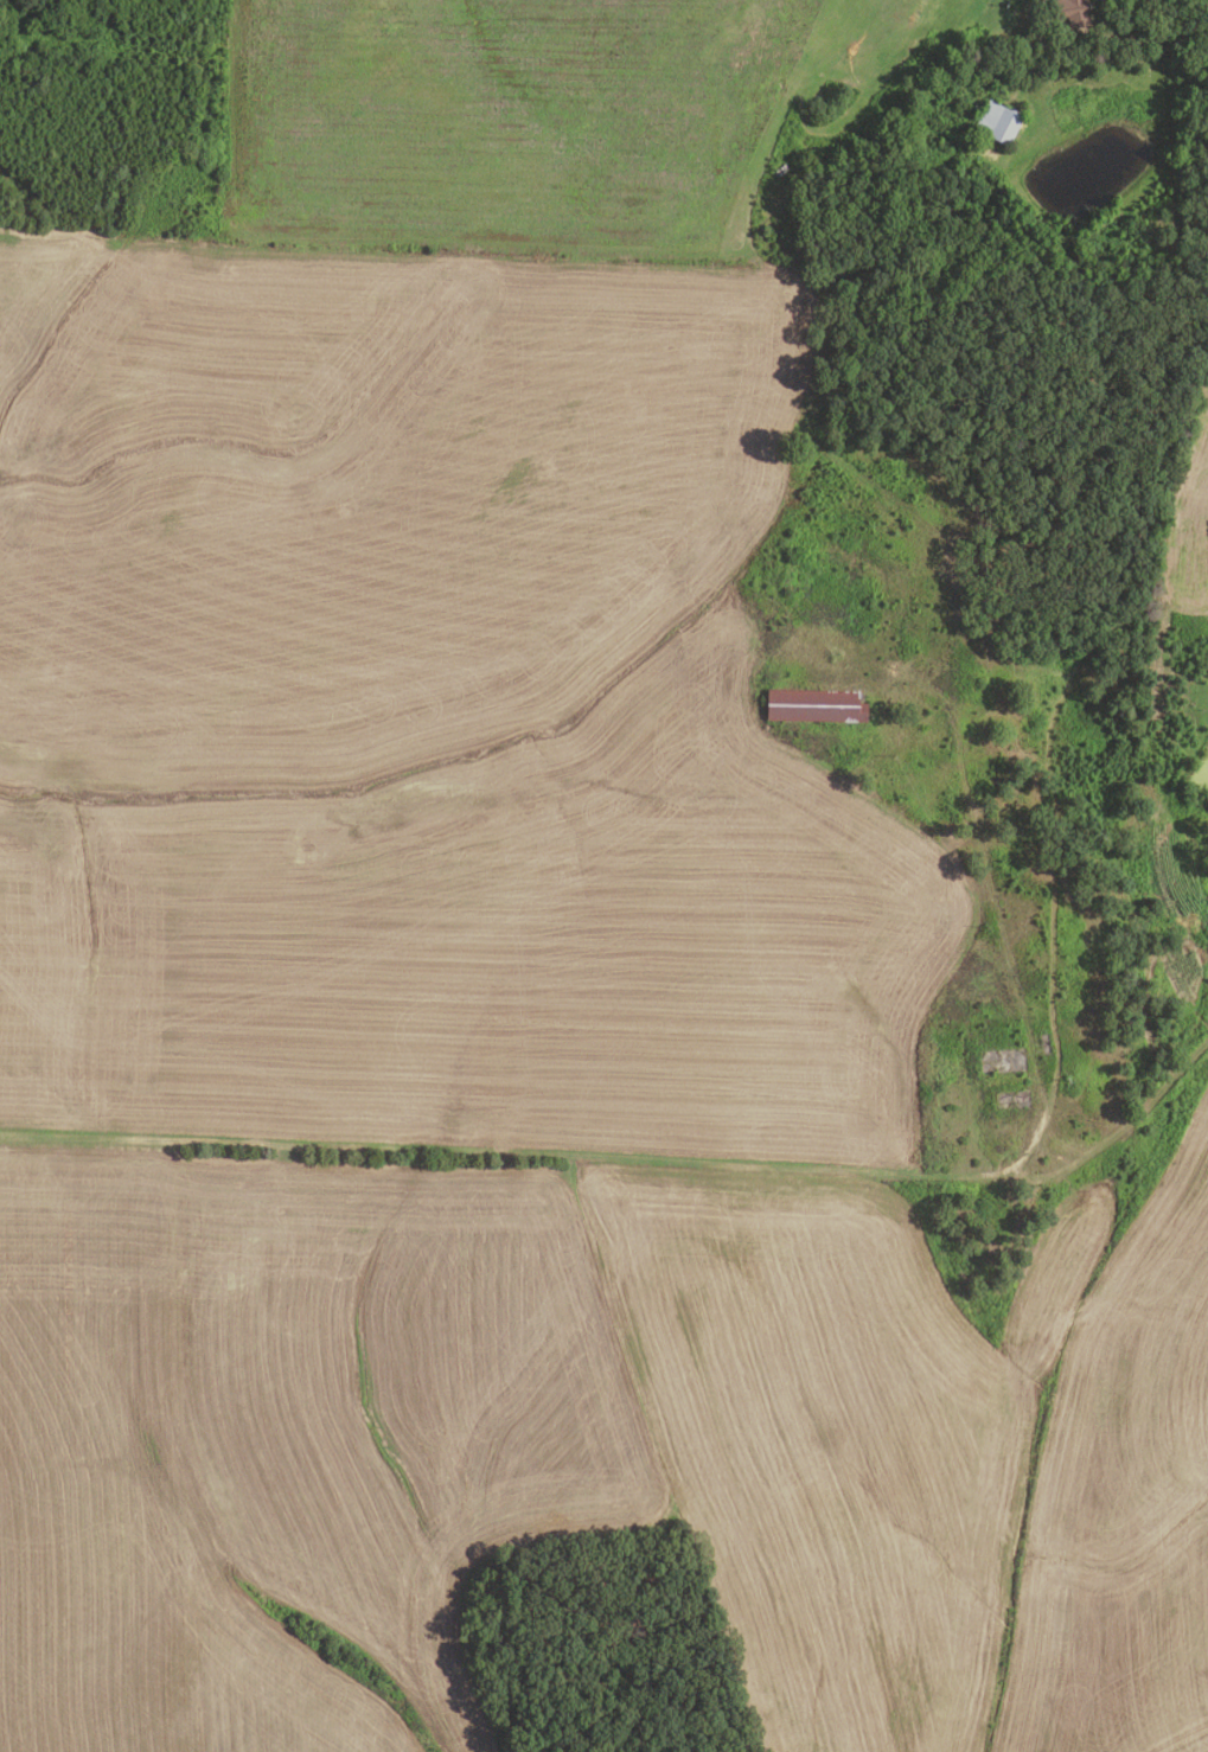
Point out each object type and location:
building: (1075, 12)
building: (988, 72)
building: (999, 122)
building: (814, 706)
road: (632, 1163)

